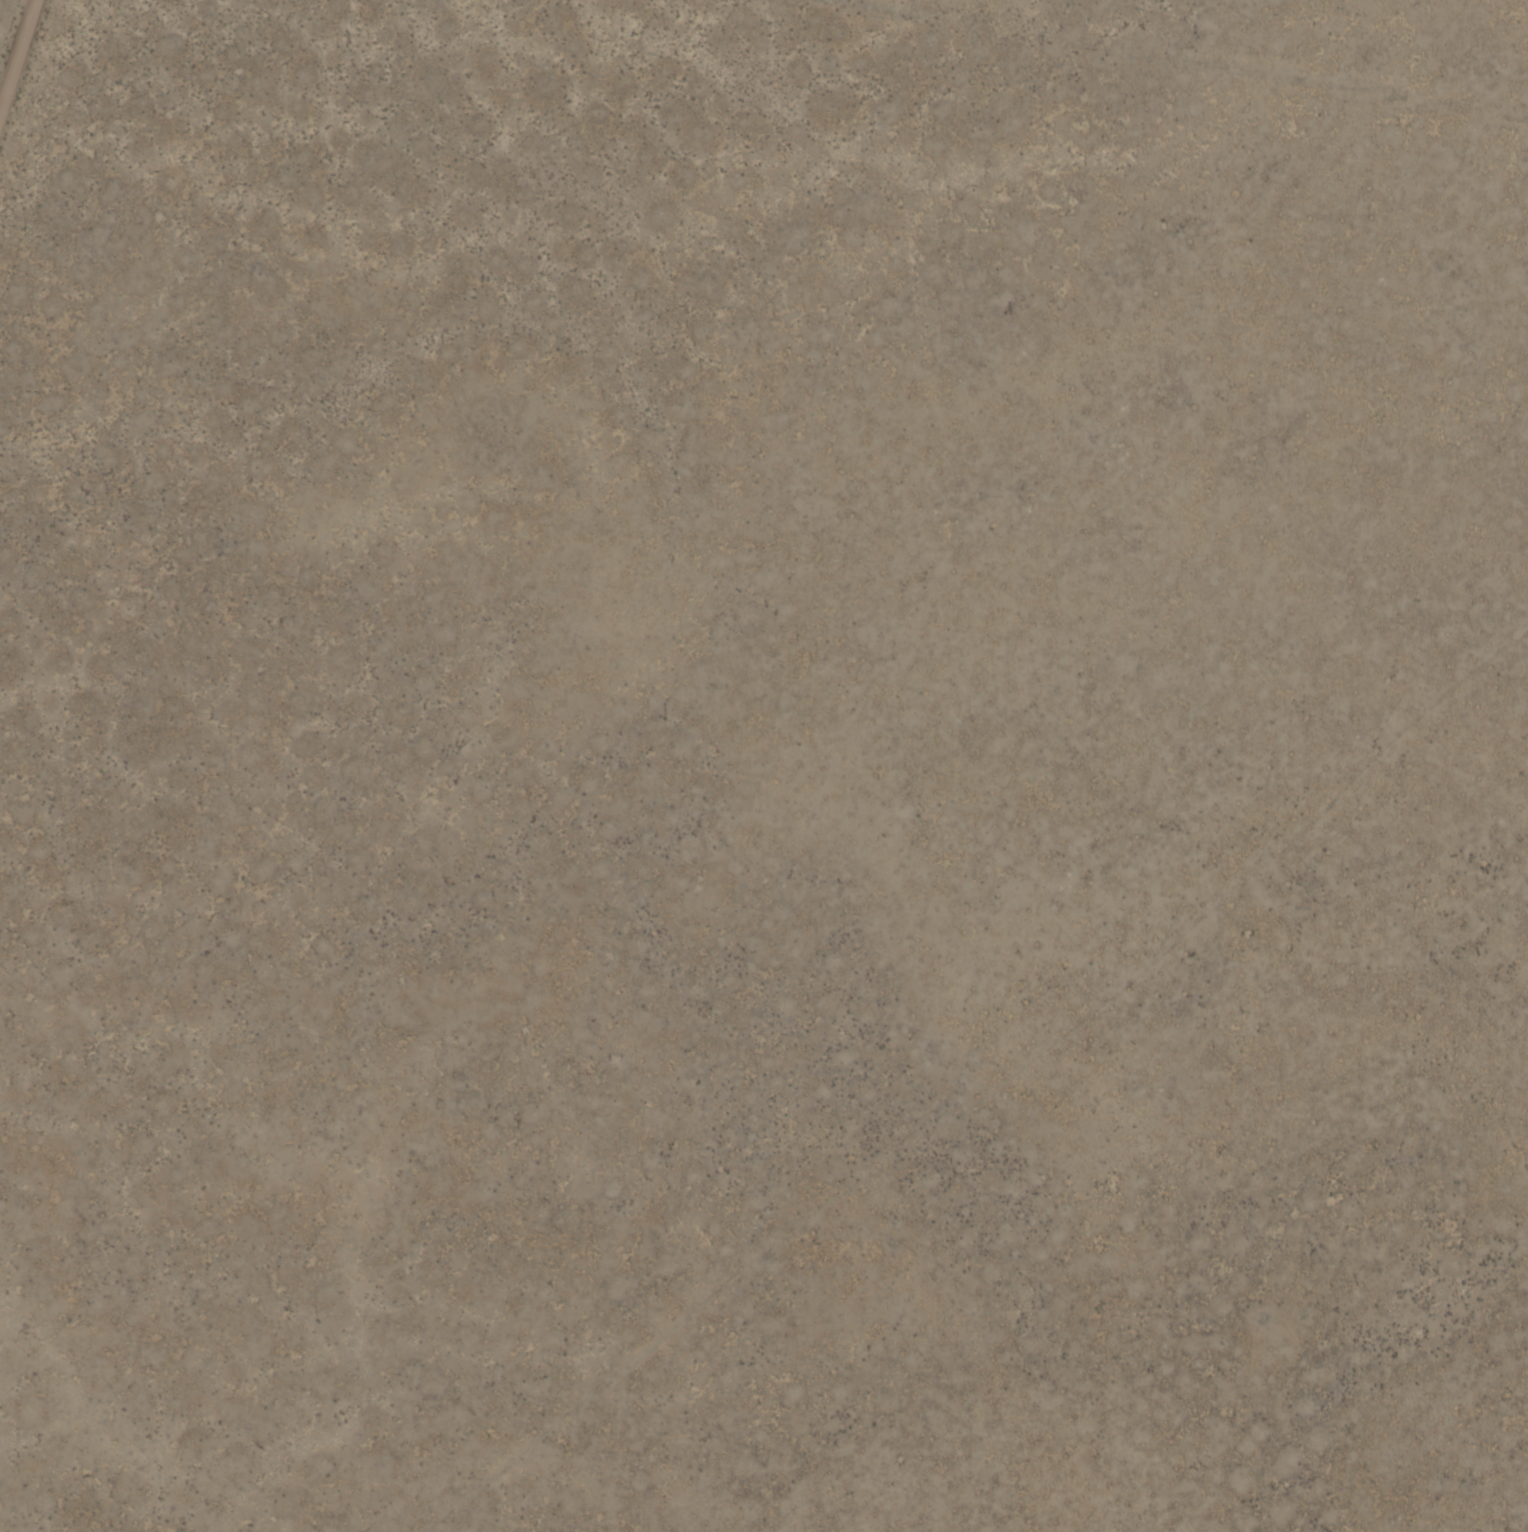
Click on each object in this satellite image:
road: (19, 60)

